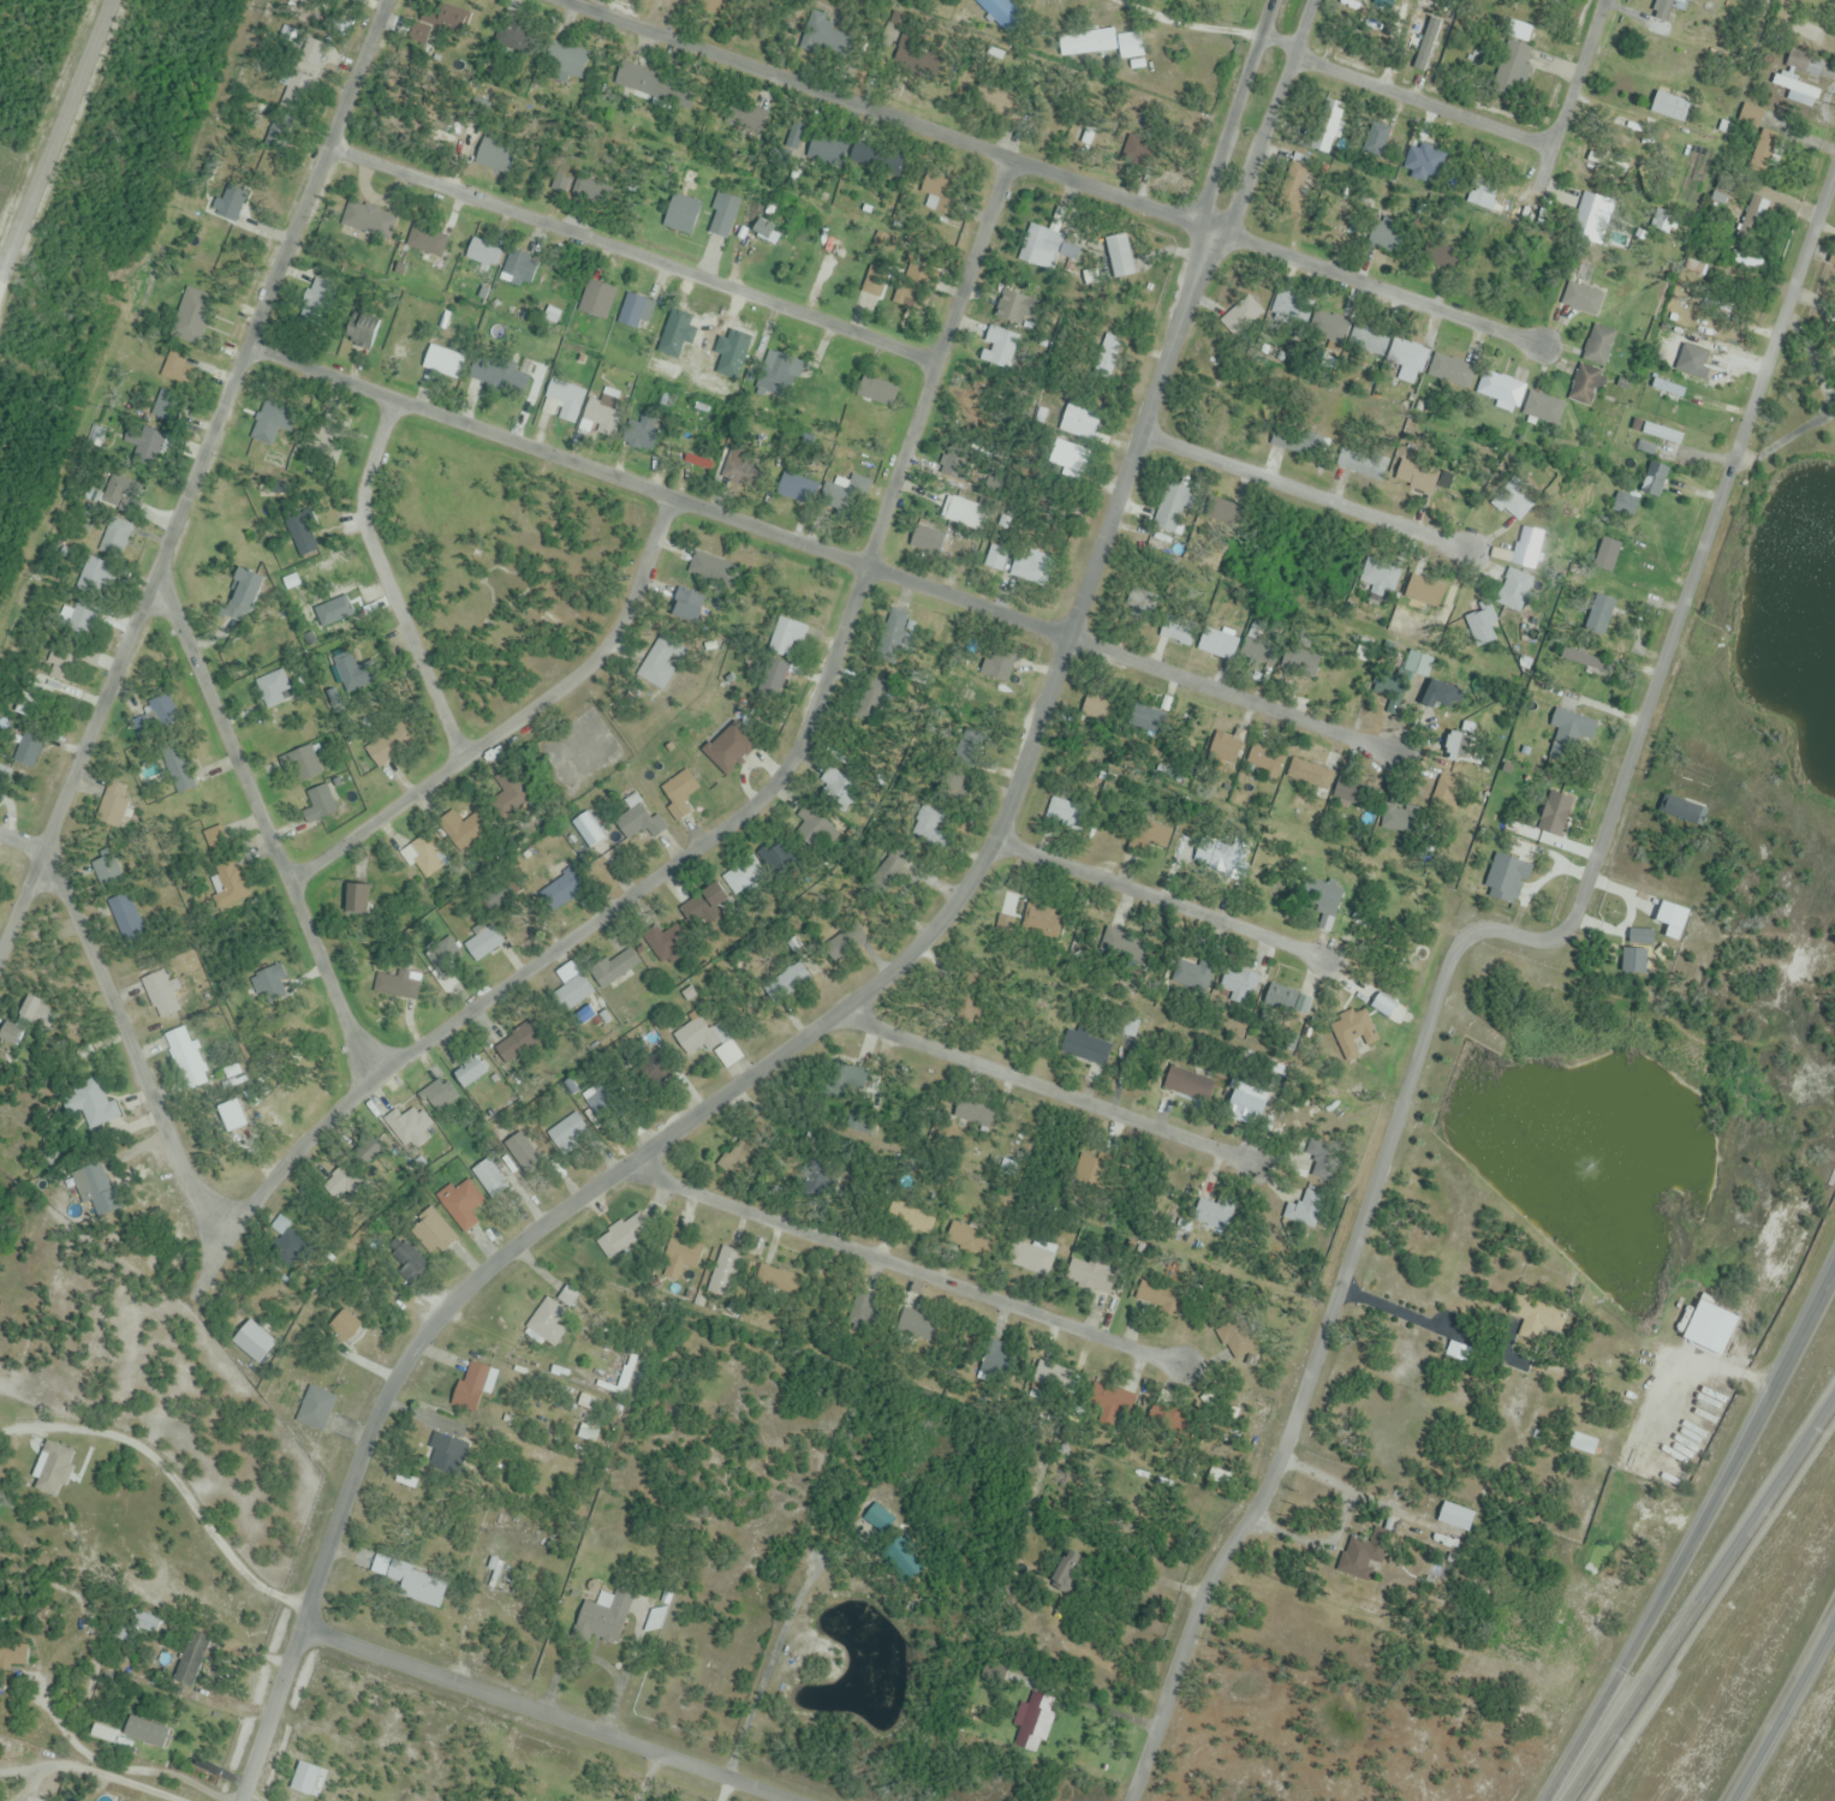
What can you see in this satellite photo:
building: (710, 5)
building: (994, 7)
building: (1662, 8)
road: (1193, 20)
building: (430, 30)
building: (1091, 43)
building: (1804, 62)
building: (1514, 65)
road: (358, 73)
road: (1577, 74)
building: (1797, 89)
road: (1405, 95)
building: (1669, 107)
road: (48, 117)
building: (1762, 119)
building: (1327, 126)
building: (792, 142)
building: (829, 147)
building: (1760, 155)
building: (495, 157)
building: (877, 159)
road: (1055, 172)
building: (939, 191)
building: (1483, 191)
building: (681, 214)
building: (722, 216)
building: (1592, 219)
building: (1753, 220)
building: (369, 221)
road: (1219, 222)
building: (1666, 222)
building: (763, 227)
building: (1375, 233)
building: (1041, 248)
building: (484, 255)
building: (1119, 255)
road: (634, 256)
building: (1438, 257)
building: (516, 272)
building: (1581, 298)
building: (597, 300)
building: (1014, 308)
building: (638, 314)
building: (181, 320)
building: (361, 330)
building: (1369, 342)
building: (1599, 345)
building: (1000, 348)
building: (1690, 351)
building: (443, 362)
building: (1107, 362)
building: (1406, 362)
building: (175, 366)
building: (1452, 371)
building: (518, 382)
building: (1586, 386)
building: (1668, 388)
building: (1501, 389)
building: (875, 392)
building: (562, 401)
building: (167, 408)
building: (1543, 408)
building: (600, 413)
building: (1080, 424)
building: (1662, 434)
building: (147, 447)
building: (1067, 459)
building: (733, 463)
building: (1362, 463)
building: (1413, 471)
road: (1307, 493)
building: (1512, 502)
building: (1625, 503)
building: (1168, 509)
building: (1219, 511)
building: (965, 514)
building: (115, 538)
building: (1527, 548)
road: (818, 550)
road: (163, 553)
building: (1607, 554)
building: (996, 559)
building: (707, 568)
building: (1374, 580)
road: (391, 585)
building: (1515, 588)
building: (1420, 590)
building: (243, 591)
building: (81, 621)
building: (1480, 626)
building: (893, 632)
building: (786, 639)
building: (1221, 644)
building: (1364, 650)
building: (1583, 663)
building: (351, 666)
building: (659, 666)
building: (66, 667)
building: (273, 684)
building: (1438, 697)
building: (159, 712)
building: (1148, 721)
road: (519, 722)
building: (1562, 724)
building: (387, 744)
building: (1458, 747)
building: (1223, 749)
building: (31, 751)
building: (1265, 759)
building: (304, 763)
building: (177, 764)
building: (1310, 775)
building: (838, 789)
building: (679, 793)
building: (1348, 793)
building: (1443, 793)
building: (322, 803)
road: (762, 803)
building: (113, 805)
building: (1060, 811)
building: (1400, 817)
building: (638, 823)
building: (931, 824)
building: (589, 829)
road: (268, 831)
building: (422, 858)
building: (744, 877)
building: (230, 887)
building: (560, 893)
building: (359, 899)
road: (1157, 900)
building: (707, 908)
building: (125, 913)
building: (1037, 916)
building: (520, 918)
building: (1097, 928)
building: (485, 941)
road: (1459, 942)
building: (660, 944)
building: (1124, 947)
building: (614, 967)
building: (1190, 977)
building: (787, 979)
building: (269, 982)
building: (1233, 984)
building: (573, 992)
building: (163, 995)
building: (1283, 1002)
road: (123, 1024)
building: (1354, 1033)
building: (10, 1034)
building: (699, 1037)
building: (517, 1046)
building: (1085, 1048)
road: (781, 1054)
building: (186, 1058)
building: (644, 1072)
building: (470, 1073)
building: (842, 1074)
building: (1188, 1085)
road: (1044, 1086)
building: (439, 1096)
building: (1246, 1104)
building: (90, 1105)
building: (606, 1105)
building: (975, 1113)
building: (856, 1125)
building: (413, 1129)
building: (568, 1134)
building: (1317, 1149)
building: (520, 1157)
building: (376, 1162)
building: (1089, 1171)
building: (490, 1180)
building: (91, 1187)
building: (463, 1205)
building: (1207, 1215)
building: (911, 1217)
building: (1300, 1217)
building: (433, 1234)
building: (964, 1235)
building: (618, 1240)
building: (287, 1245)
building: (684, 1253)
building: (1029, 1258)
building: (405, 1263)
road: (900, 1264)
road: (213, 1269)
building: (1090, 1278)
building: (778, 1280)
building: (1155, 1296)
building: (860, 1310)
building: (914, 1325)
building: (547, 1326)
building: (1234, 1340)
building: (252, 1342)
building: (620, 1373)
building: (1050, 1377)
building: (471, 1386)
building: (1112, 1400)
building: (314, 1409)
building: (445, 1461)
building: (53, 1472)
building: (1455, 1517)
building: (878, 1521)
road: (1696, 1539)
building: (895, 1561)
building: (1067, 1574)
building: (412, 1581)
road: (1697, 1600)
building: (602, 1620)
building: (145, 1624)
building: (12, 1654)
road: (1782, 1705)
building: (1025, 1710)
road: (543, 1714)

